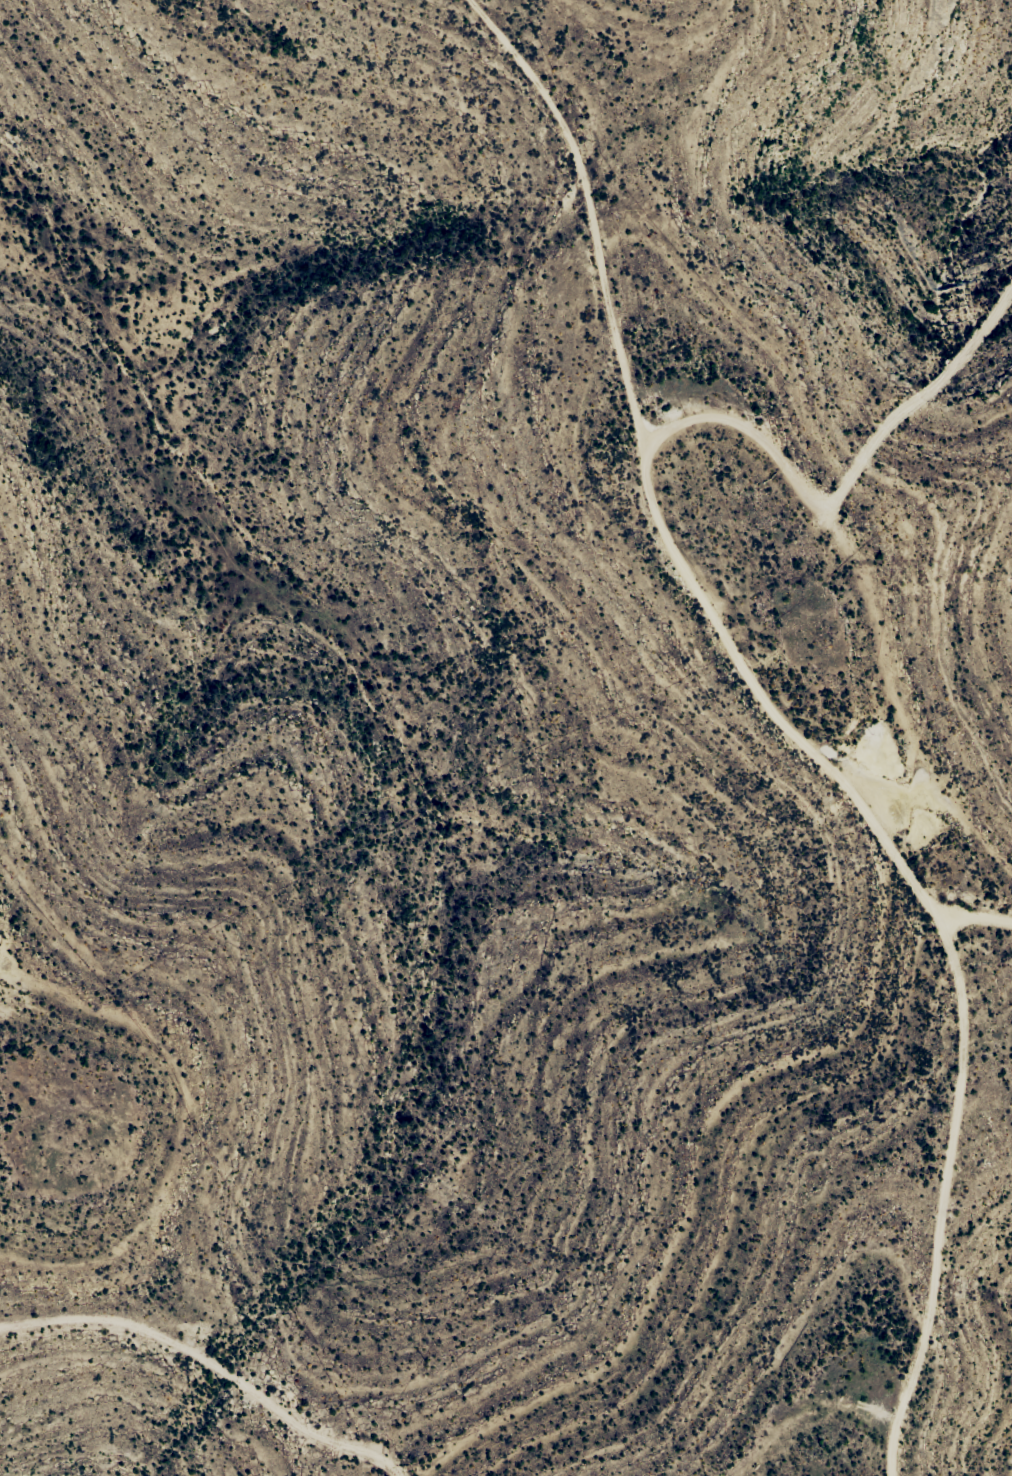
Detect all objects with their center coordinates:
road: (178, 1395)

